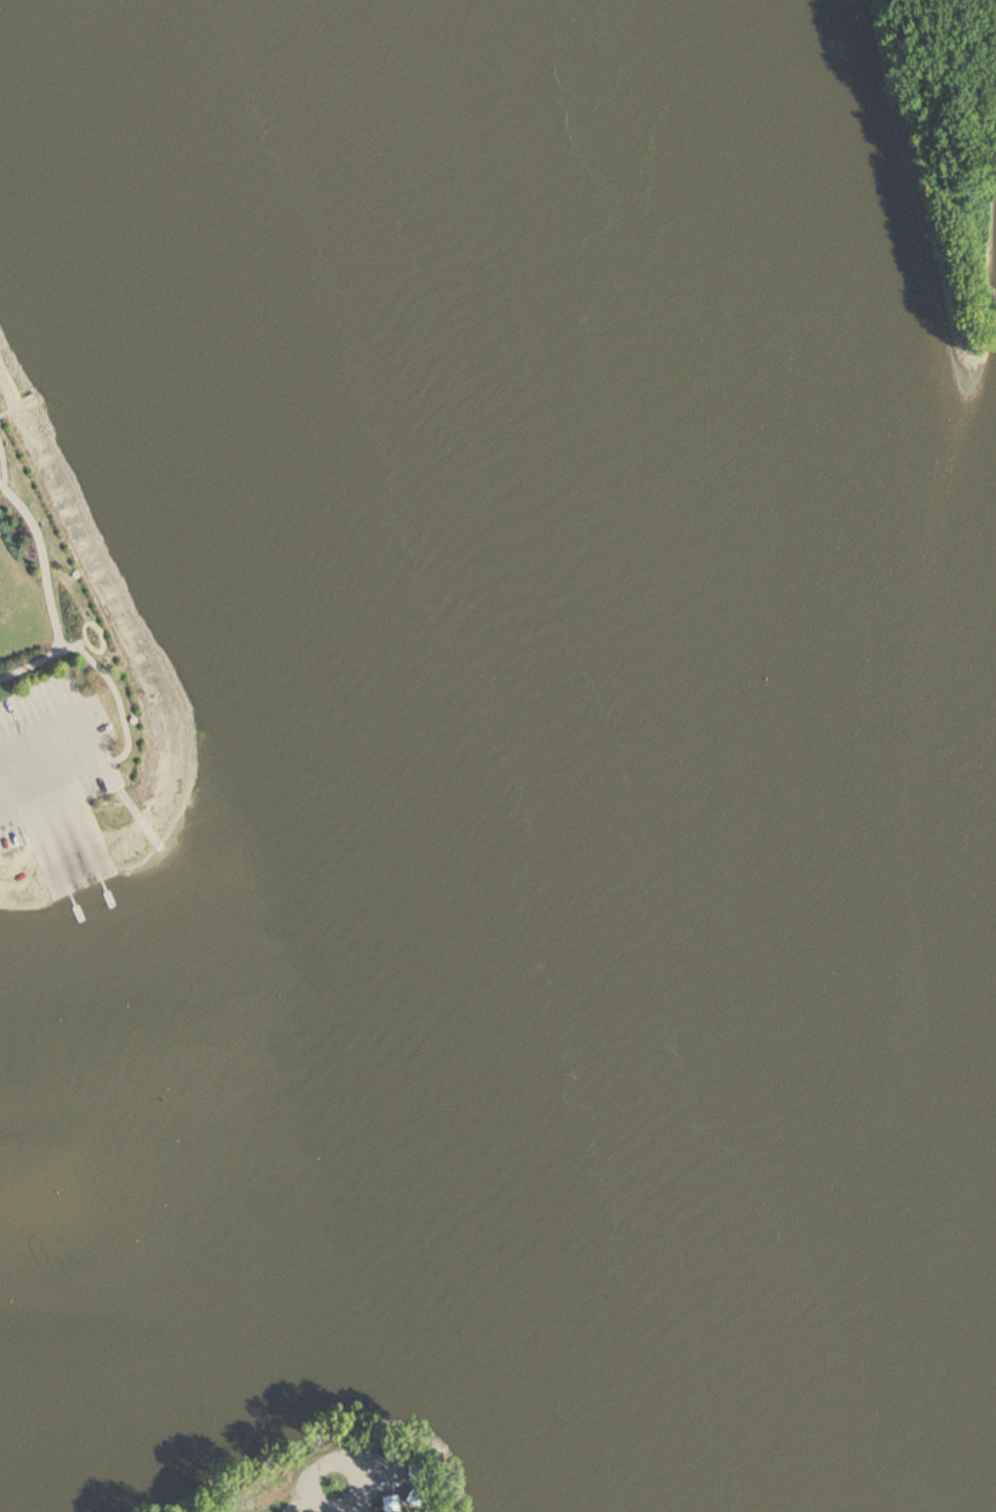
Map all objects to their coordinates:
road: (1, 471)
road: (48, 595)
road: (78, 646)
park: (69, 660)
road: (131, 699)
road: (97, 748)
river: (530, 756)
parking lot: (57, 760)
road: (88, 815)
road: (59, 827)
road: (34, 836)
pier: (85, 848)
pier: (55, 860)
river: (295, 1117)
road: (358, 1463)
park: (338, 1479)
road: (335, 1508)

